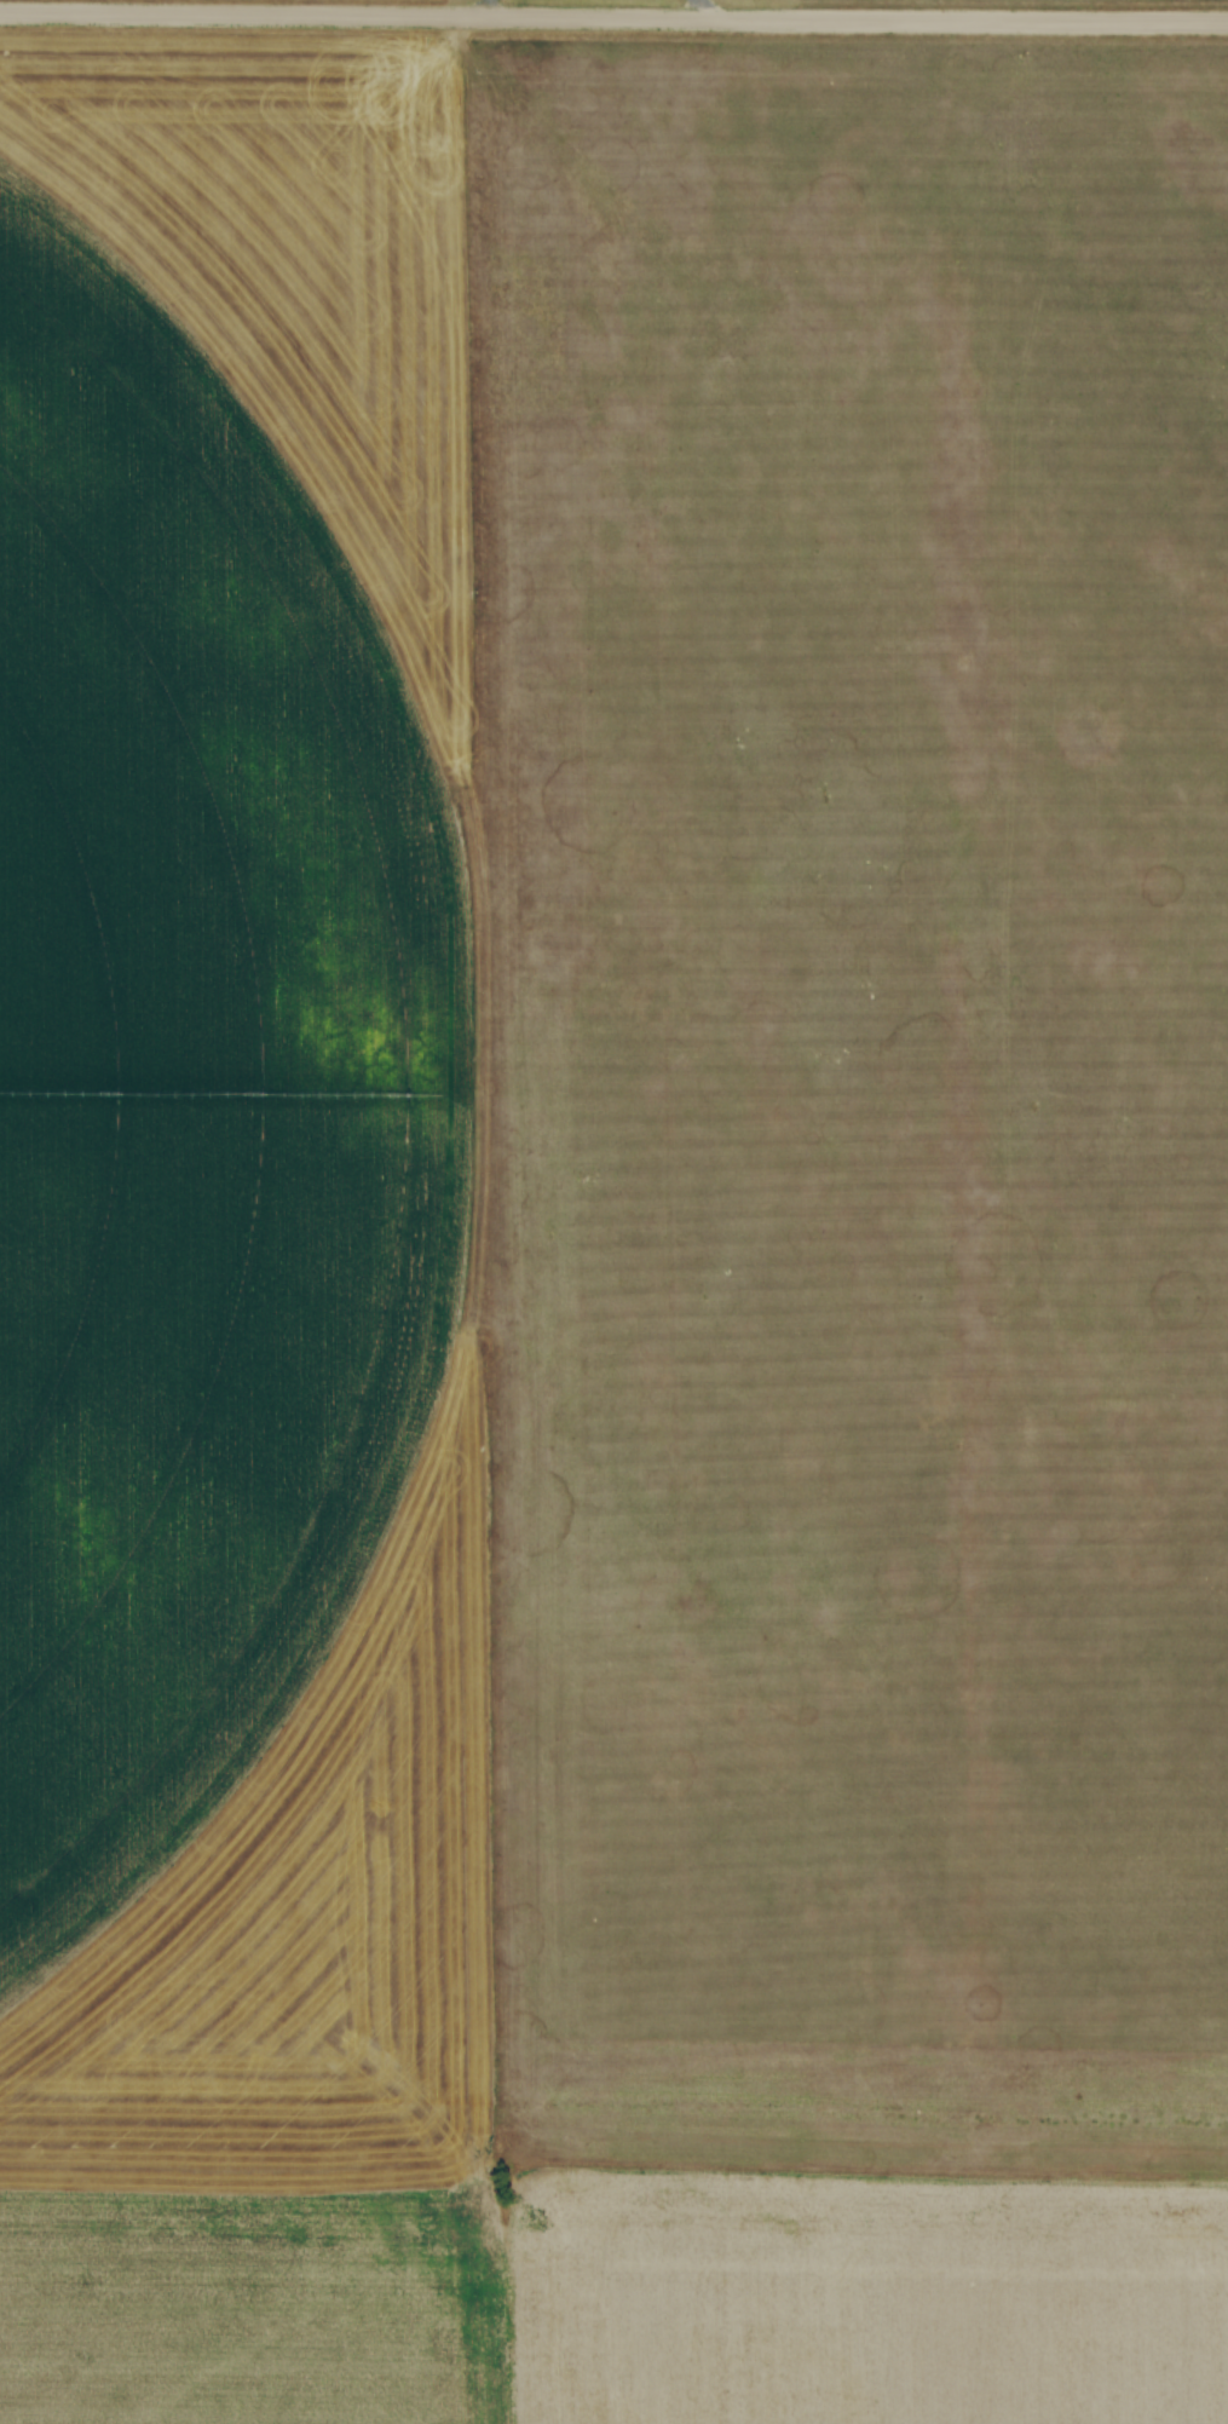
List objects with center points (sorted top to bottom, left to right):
road: (613, 21)

